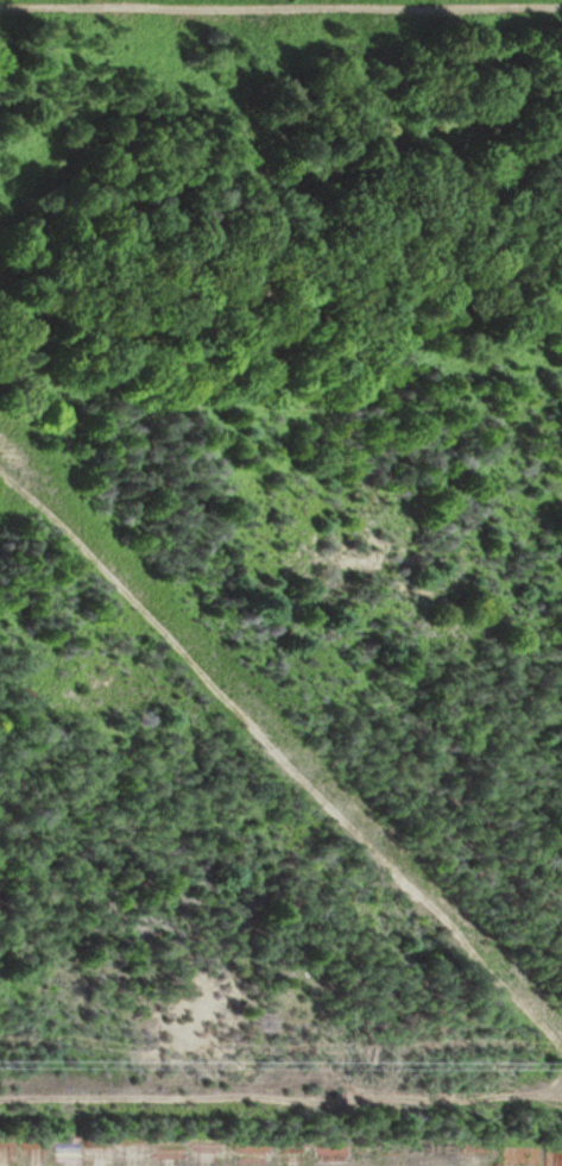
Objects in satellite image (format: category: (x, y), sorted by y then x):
building: (196, 1152)
building: (519, 1156)
building: (554, 1159)

